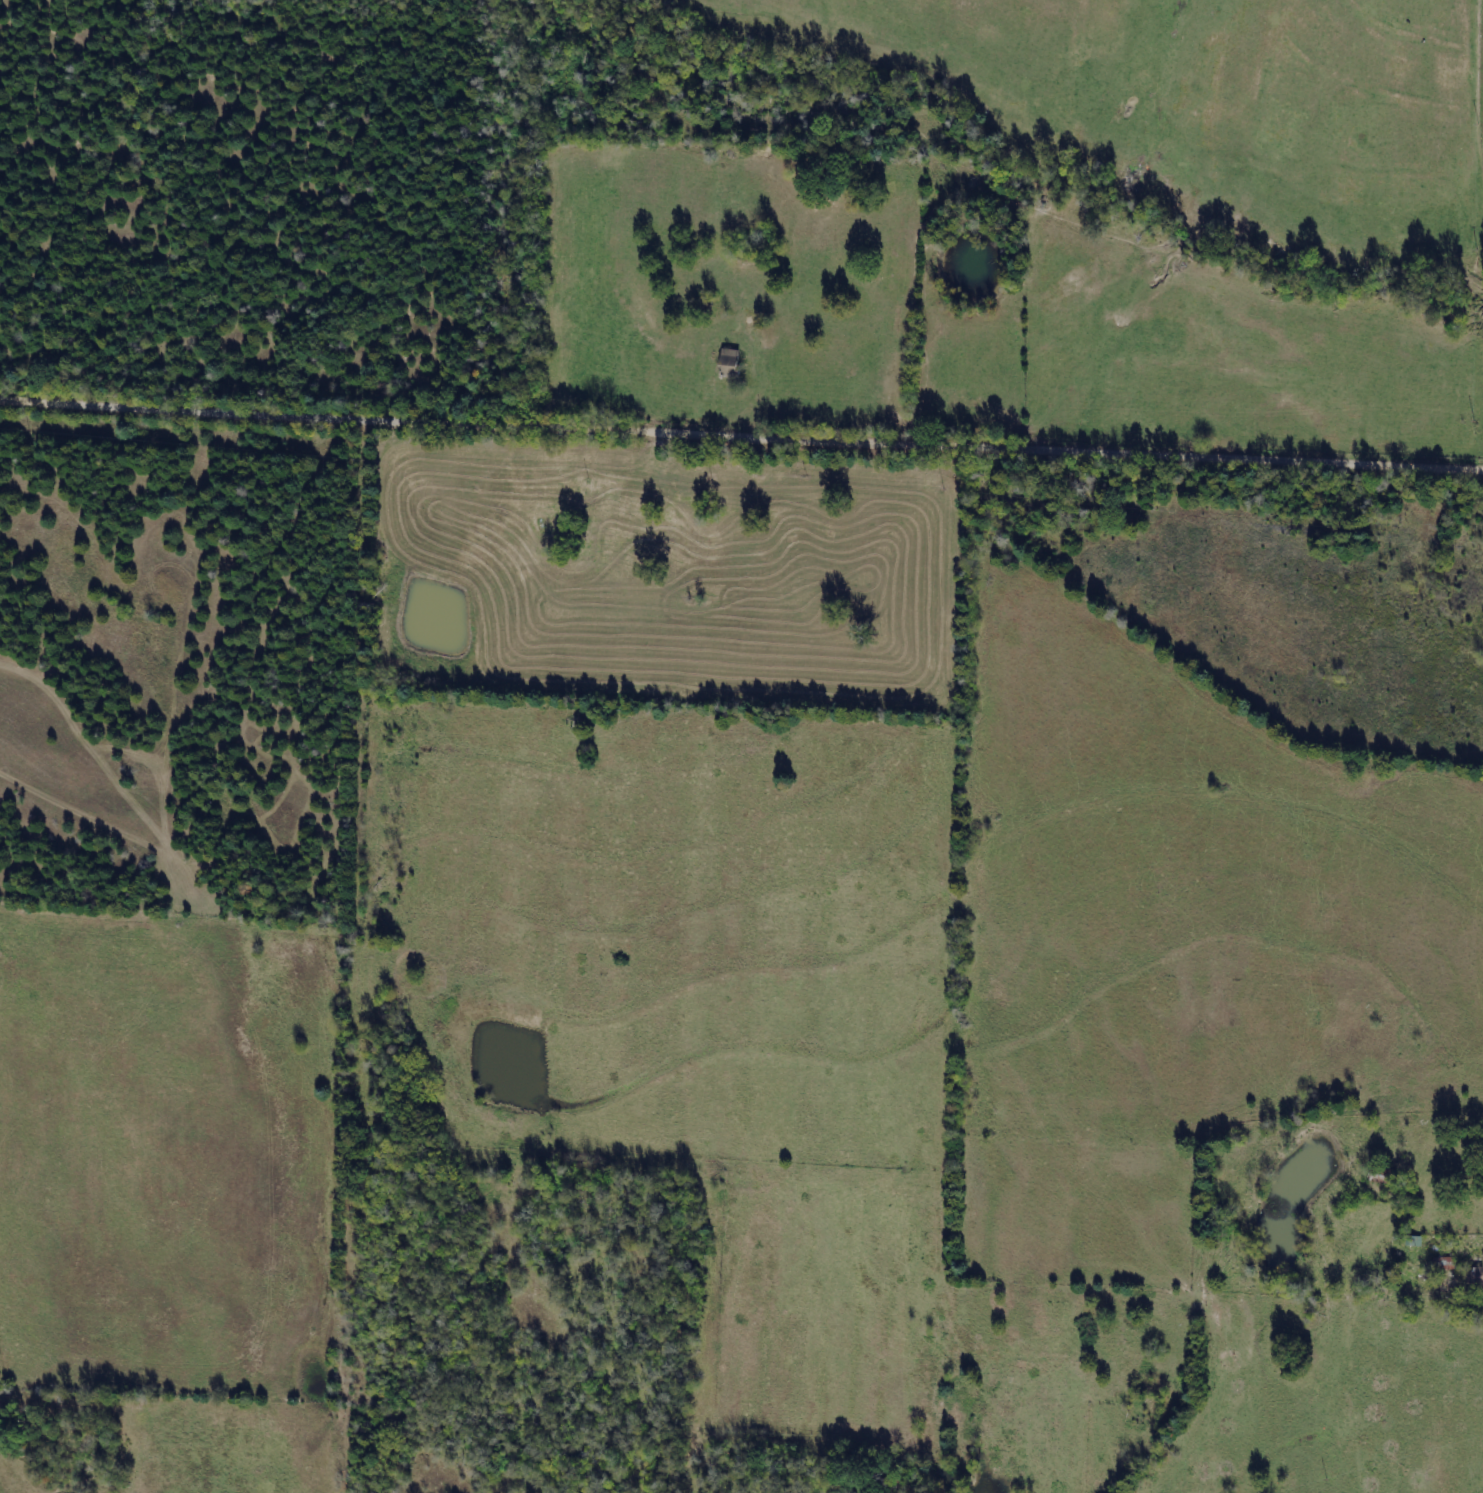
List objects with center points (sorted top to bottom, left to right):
building: (733, 362)
road: (741, 425)

